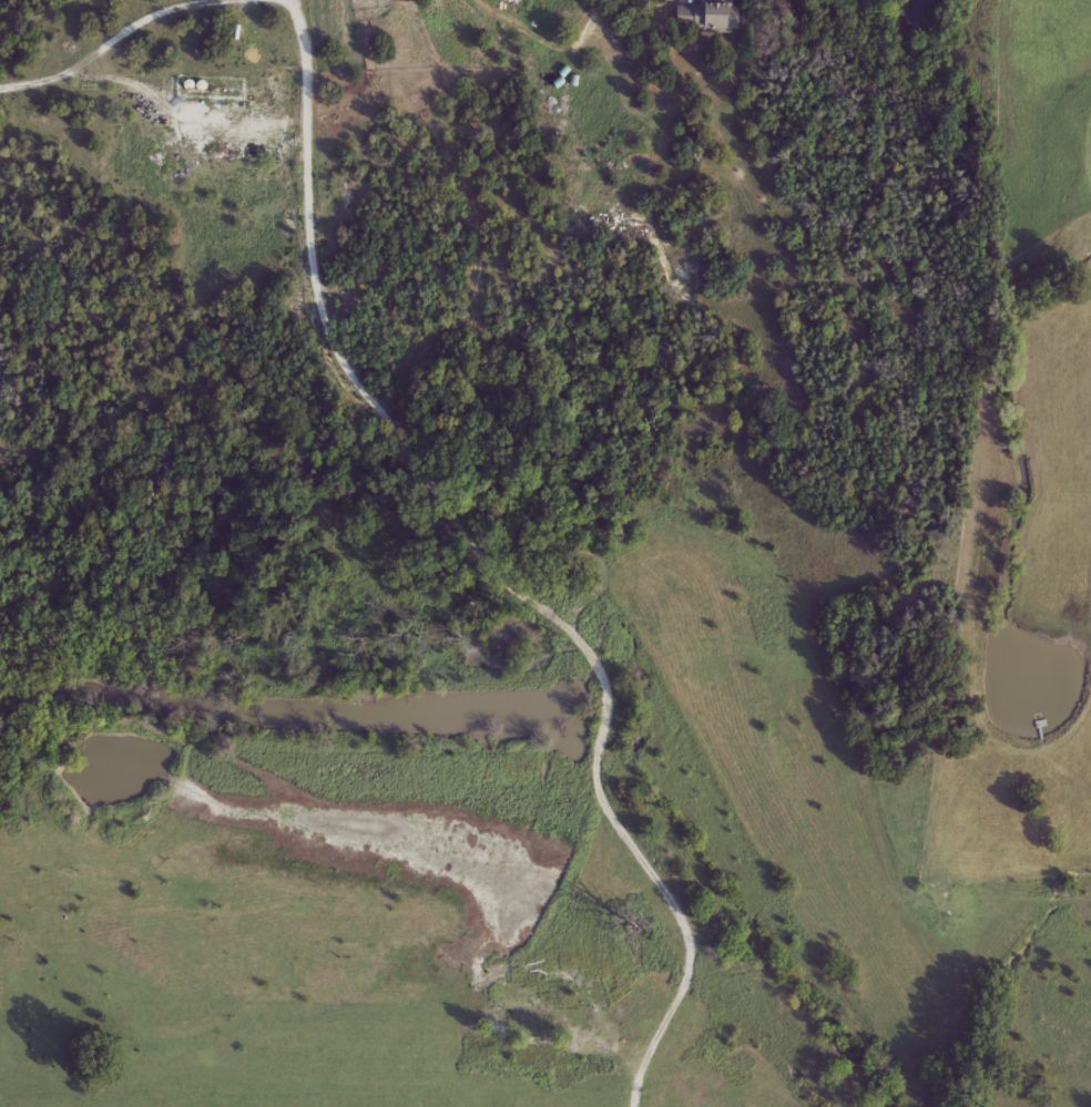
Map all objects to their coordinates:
road: (282, 0)
building: (711, 17)
road: (545, 33)
road: (119, 34)
road: (494, 562)

